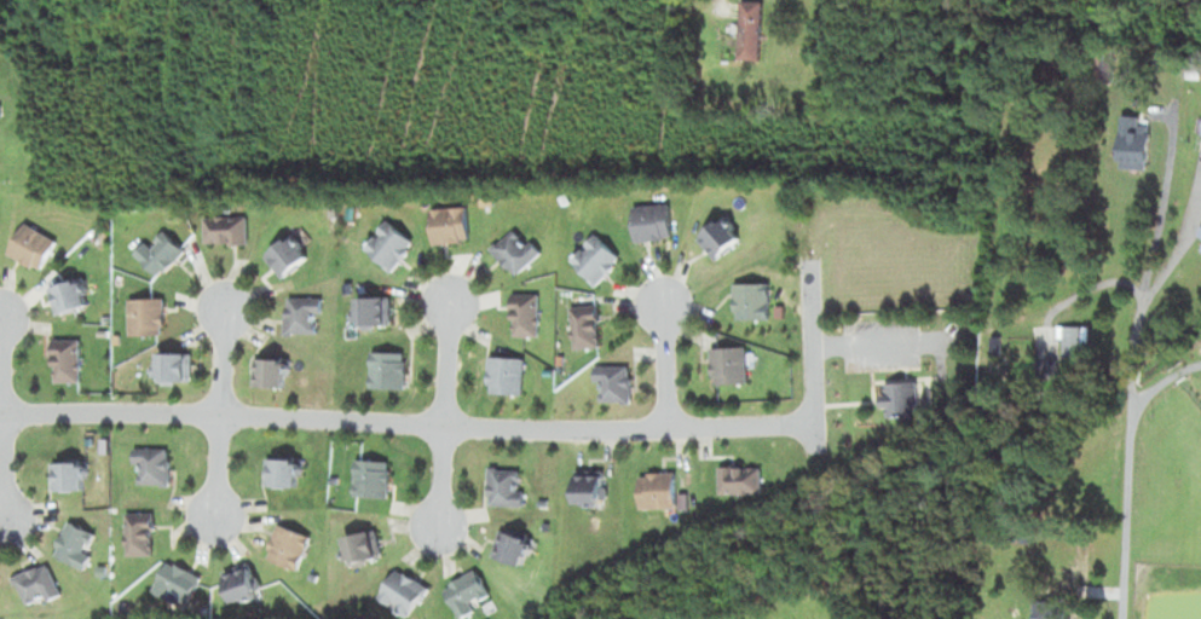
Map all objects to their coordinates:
road: (698, 28)
building: (751, 30)
building: (1105, 74)
building: (1134, 141)
building: (570, 201)
building: (652, 222)
building: (449, 225)
building: (226, 230)
building: (721, 239)
building: (34, 245)
building: (389, 245)
building: (160, 250)
building: (515, 250)
building: (287, 255)
building: (595, 259)
building: (73, 295)
building: (753, 301)
building: (373, 312)
building: (302, 313)
building: (526, 314)
building: (146, 316)
building: (105, 318)
building: (585, 325)
building: (99, 331)
building: (783, 339)
building: (993, 341)
road: (878, 343)
road: (810, 357)
building: (1063, 357)
building: (70, 359)
road: (220, 361)
road: (443, 364)
road: (660, 364)
building: (732, 365)
road: (1128, 365)
building: (179, 366)
building: (387, 370)
building: (273, 371)
building: (504, 374)
building: (616, 380)
building: (901, 398)
road: (405, 422)
building: (102, 461)
building: (156, 462)
road: (215, 464)
building: (289, 472)
road: (437, 474)
building: (73, 475)
building: (374, 476)
road: (1, 478)
building: (740, 478)
building: (506, 486)
building: (593, 486)
building: (660, 492)
building: (539, 502)
building: (142, 531)
building: (291, 546)
building: (515, 548)
building: (77, 549)
building: (365, 549)
building: (1081, 557)
building: (312, 577)
building: (244, 582)
building: (0, 583)
building: (39, 583)
building: (178, 583)
building: (403, 591)
building: (467, 591)
building: (1053, 612)

